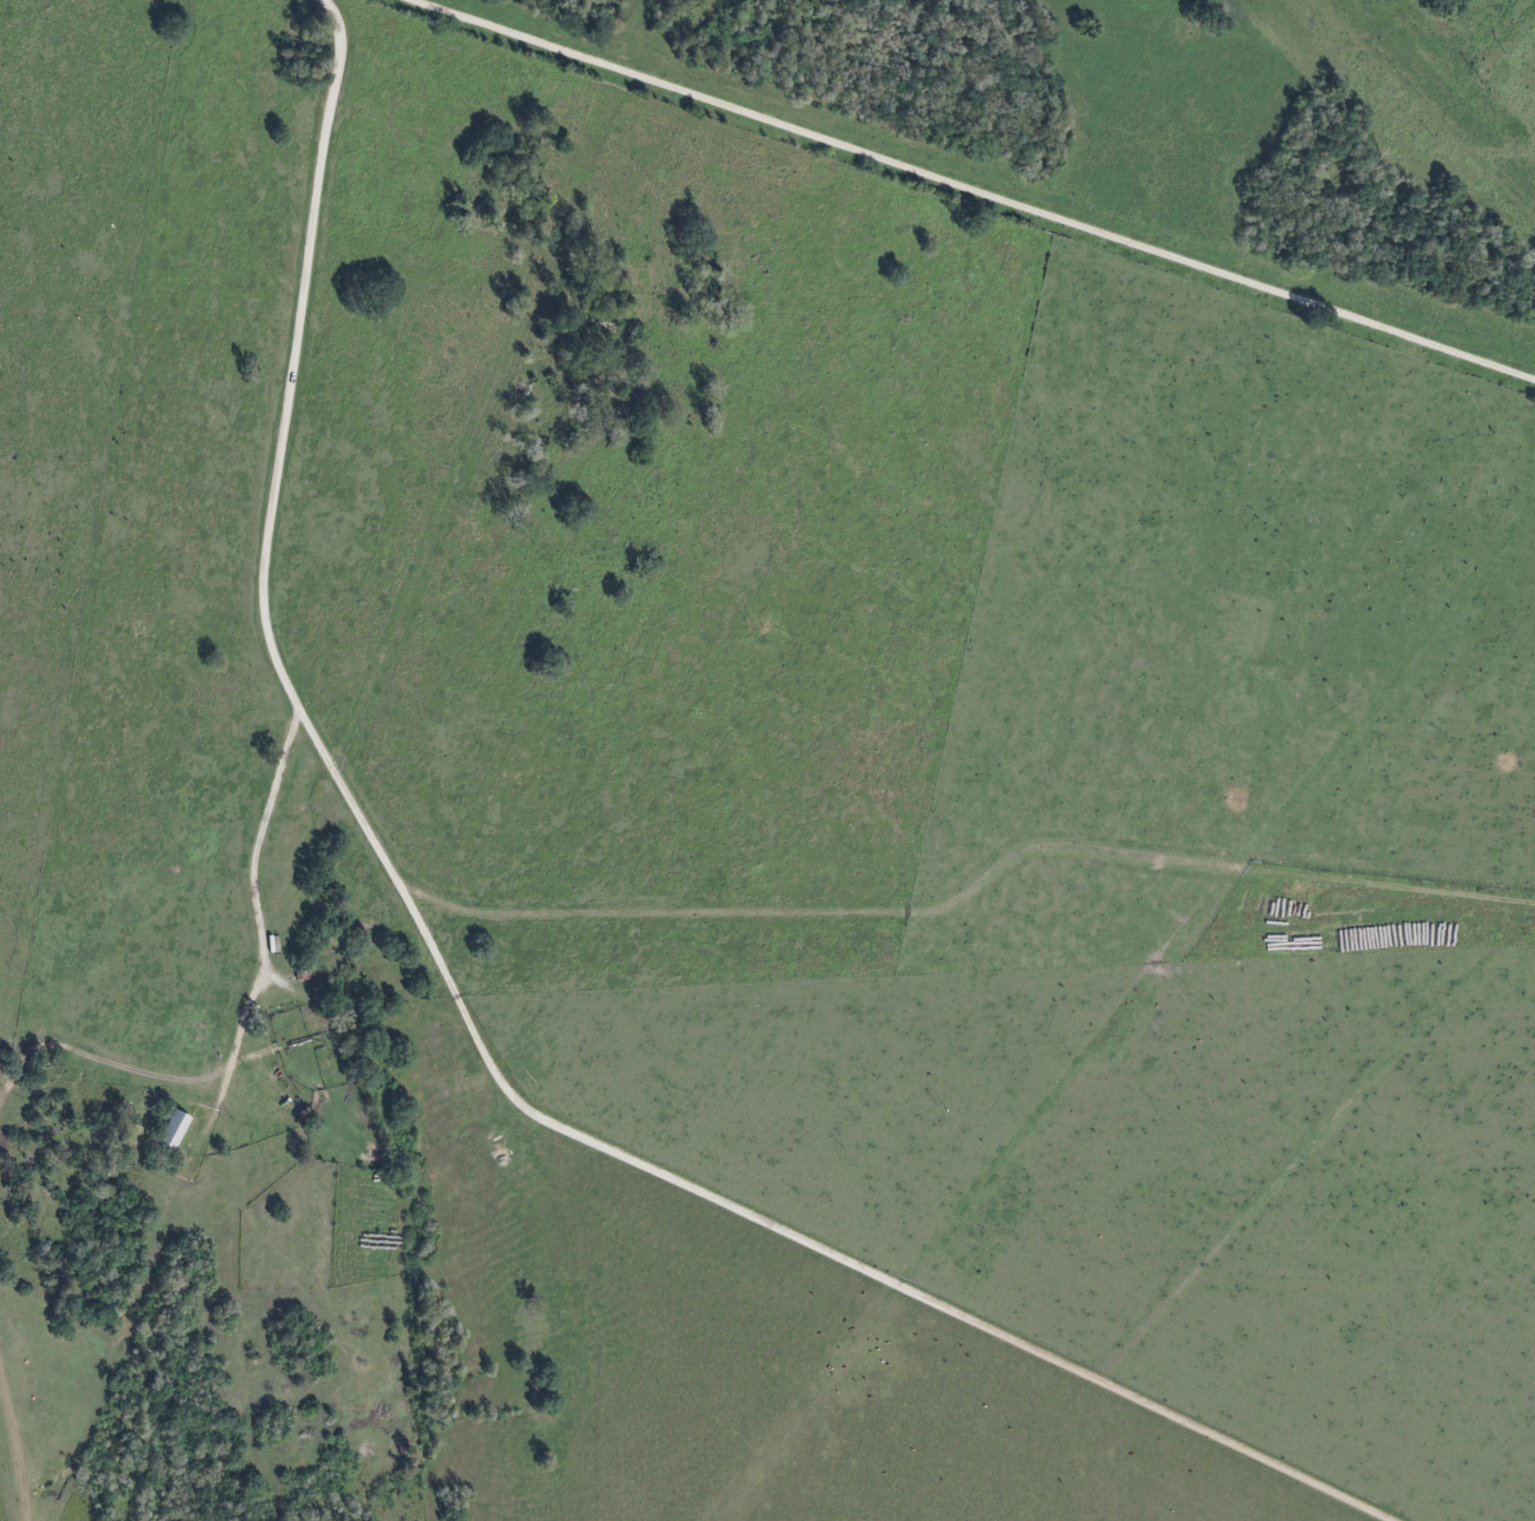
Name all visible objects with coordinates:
road: (975, 190)
road: (515, 903)
road: (265, 918)
road: (849, 1260)

